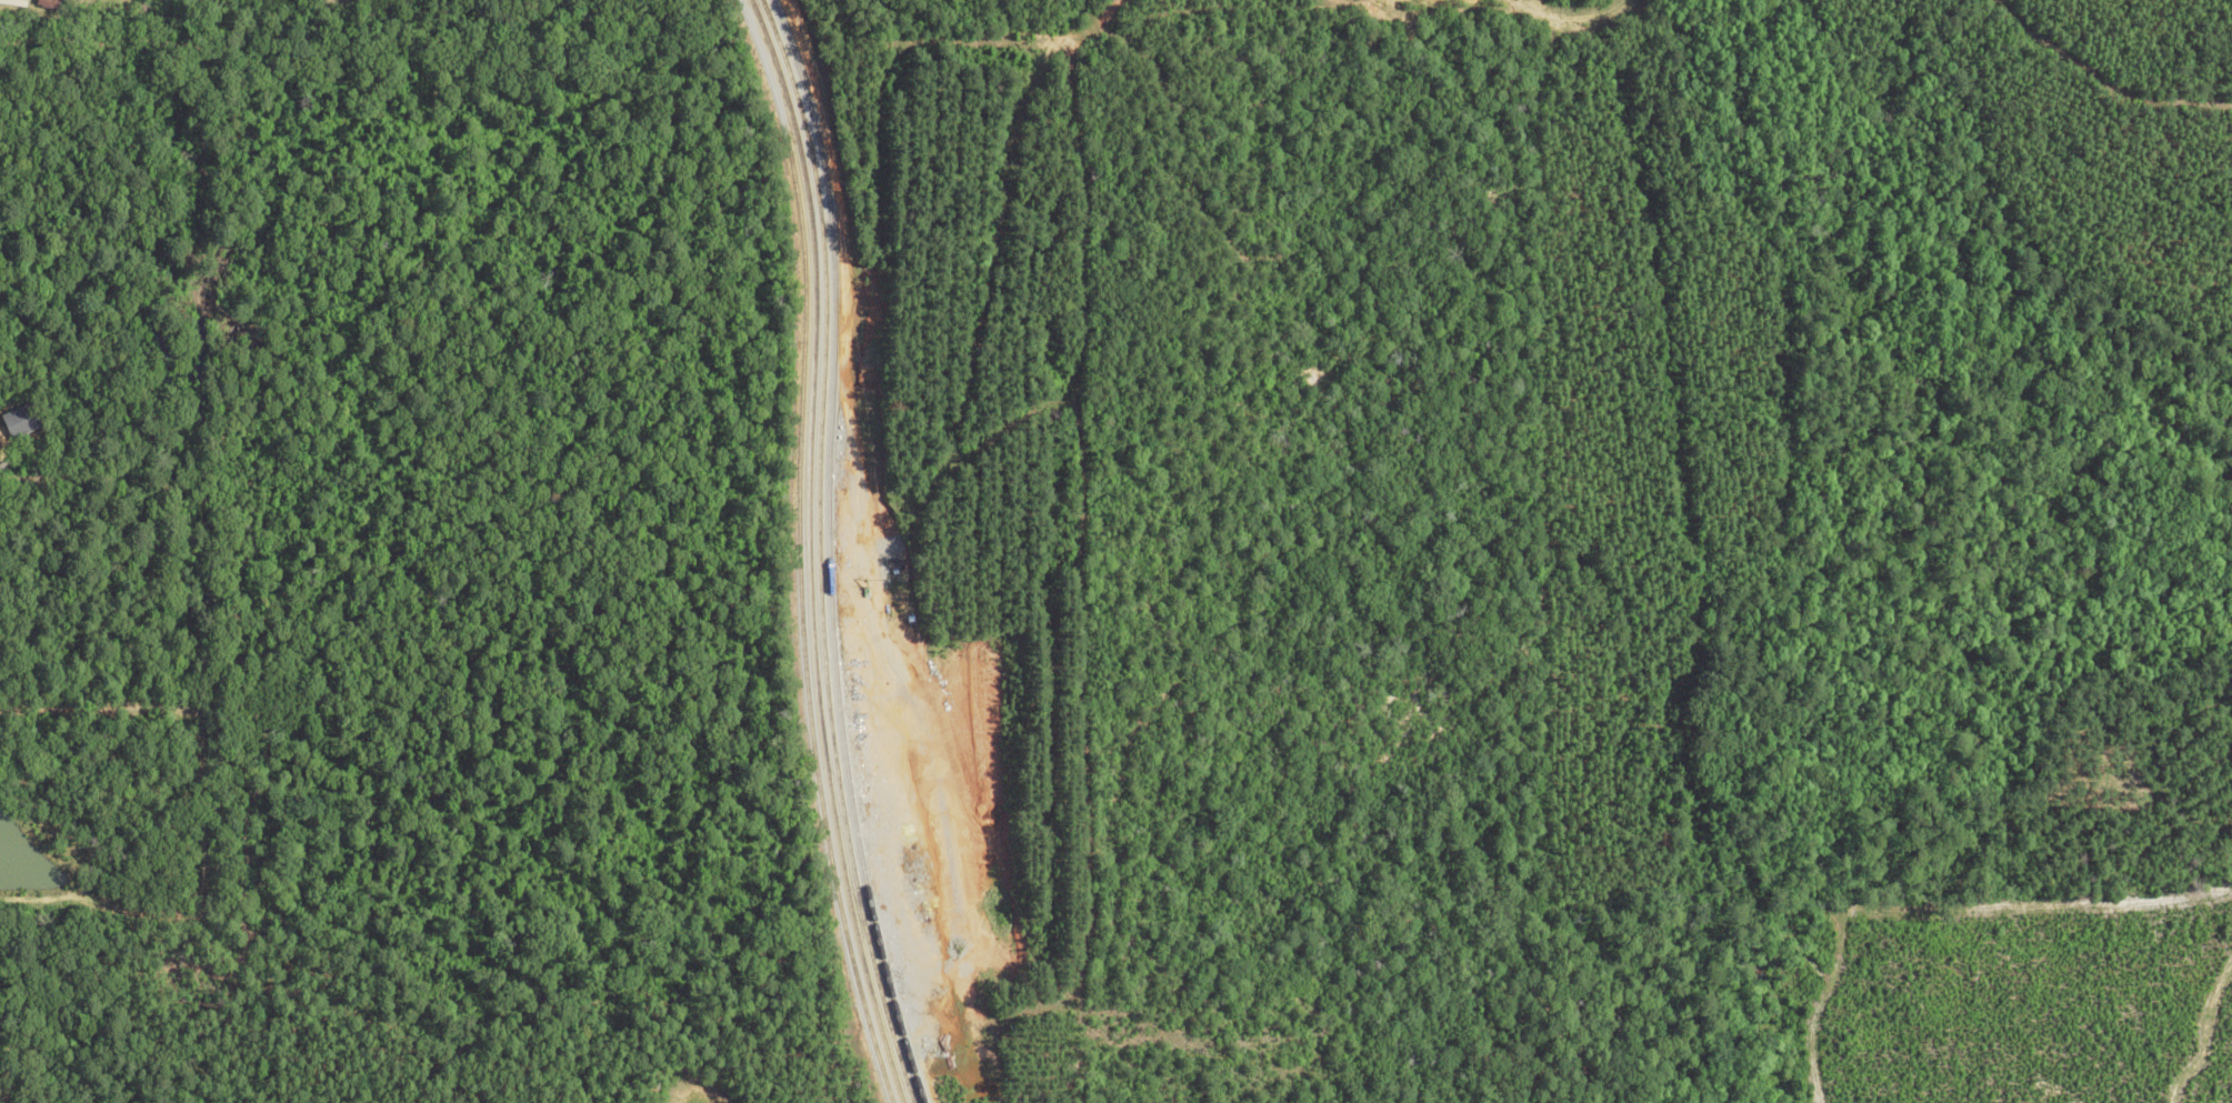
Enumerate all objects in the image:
building: (22, 419)
railway: (805, 550)
railway: (819, 550)
railway: (829, 551)
railway: (839, 551)

